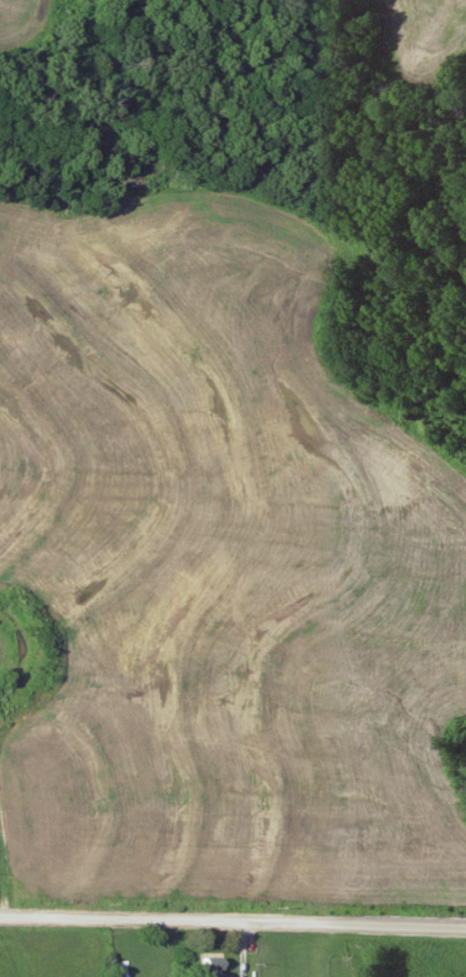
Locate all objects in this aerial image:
road: (7, 858)
road: (233, 922)
building: (212, 965)

